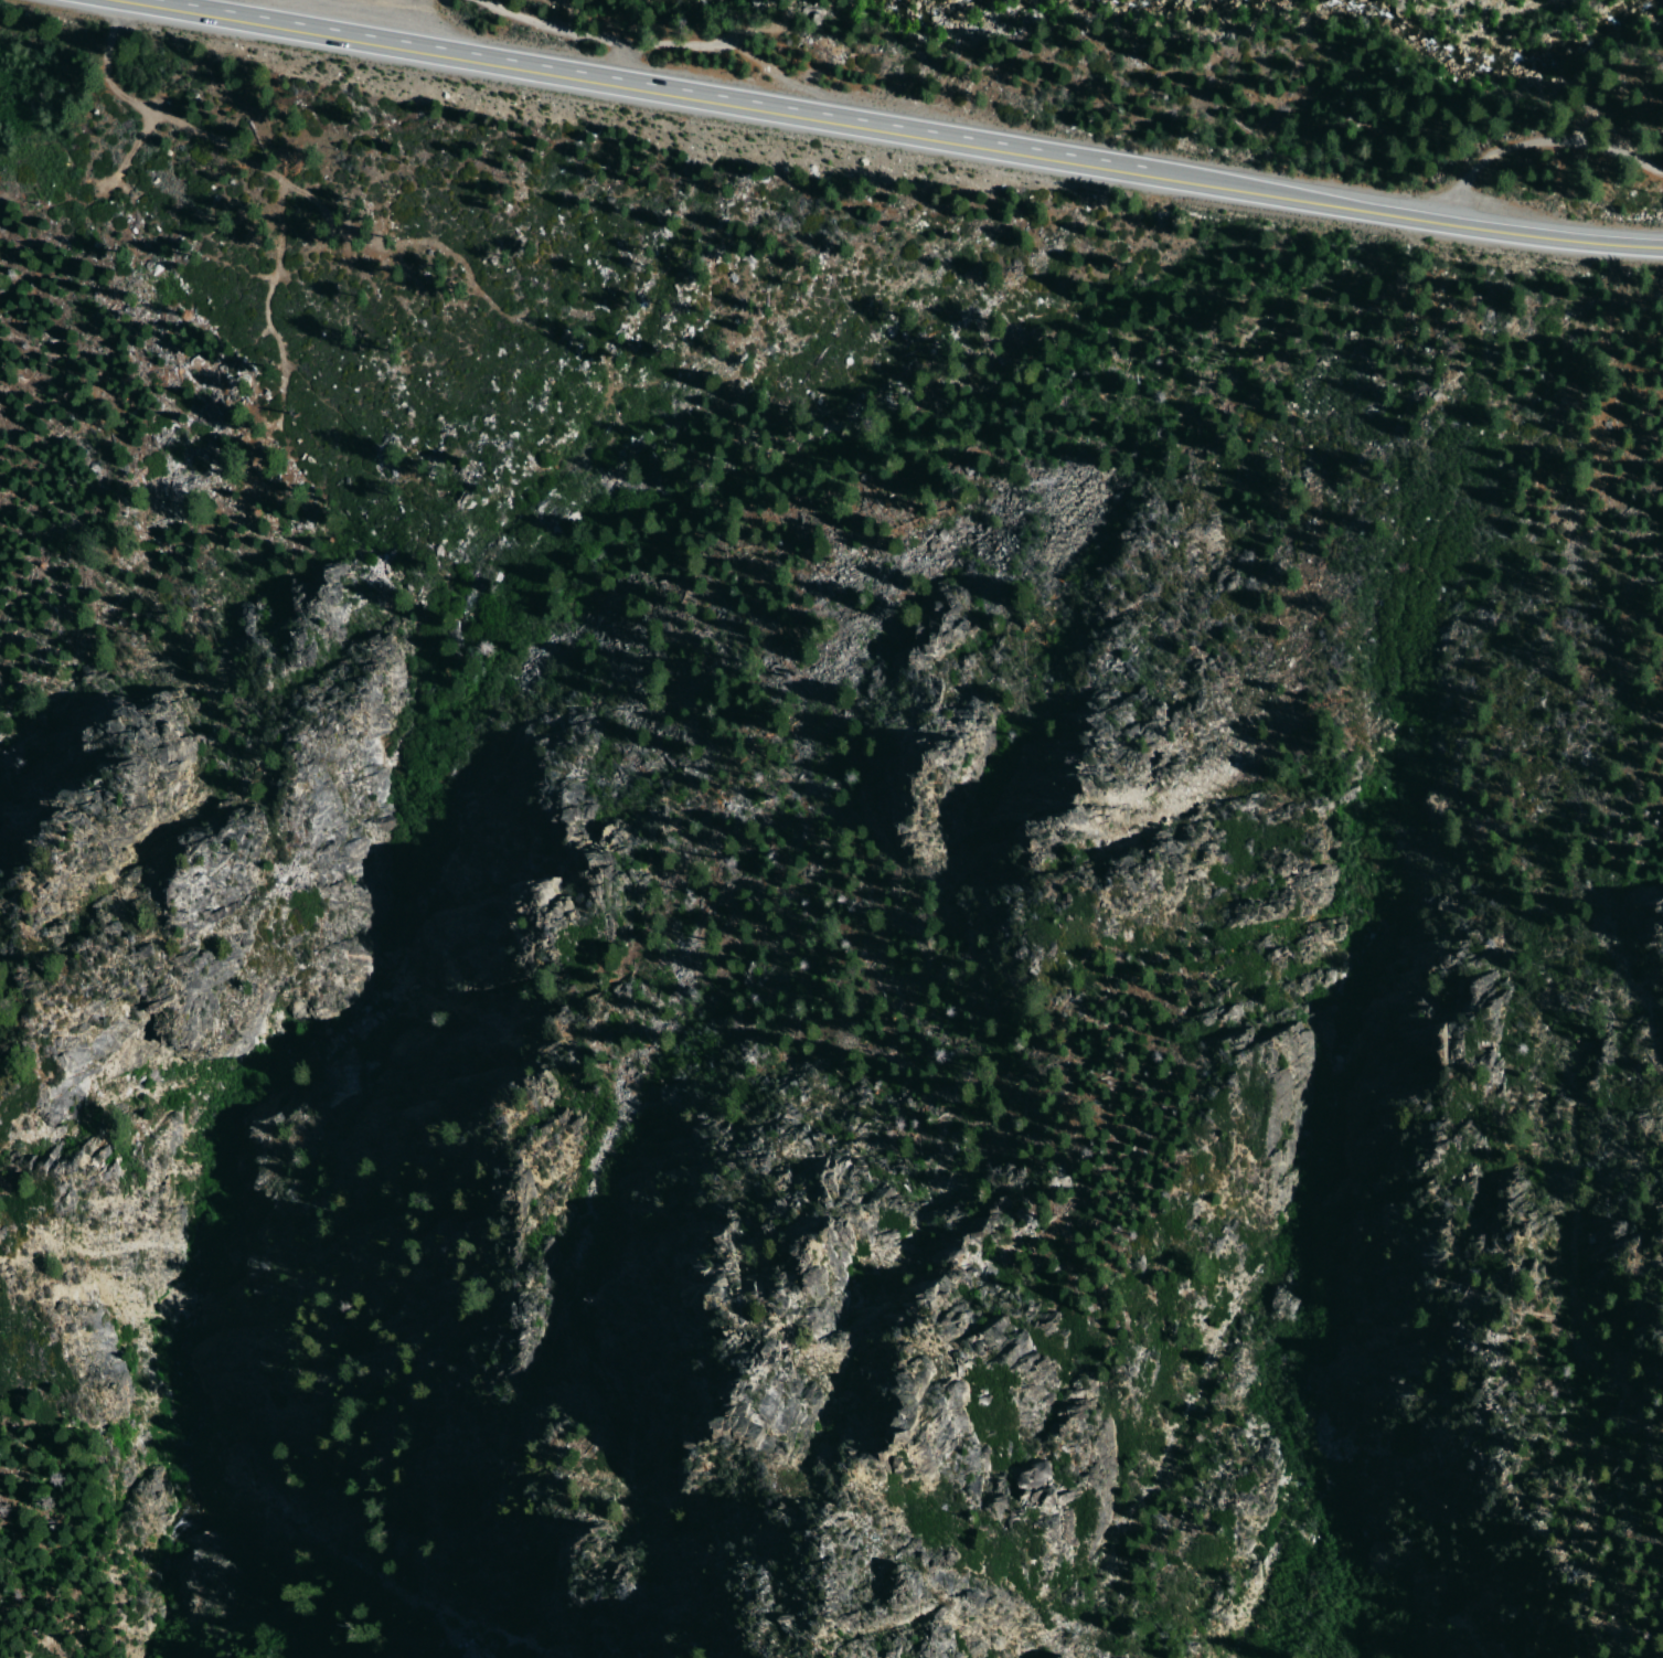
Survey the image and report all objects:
parking lot: (377, 11)
river: (979, 11)
road: (652, 40)
river: (1492, 60)
road: (642, 89)
road: (1536, 142)
road: (271, 174)
road: (1414, 217)
road: (269, 285)

